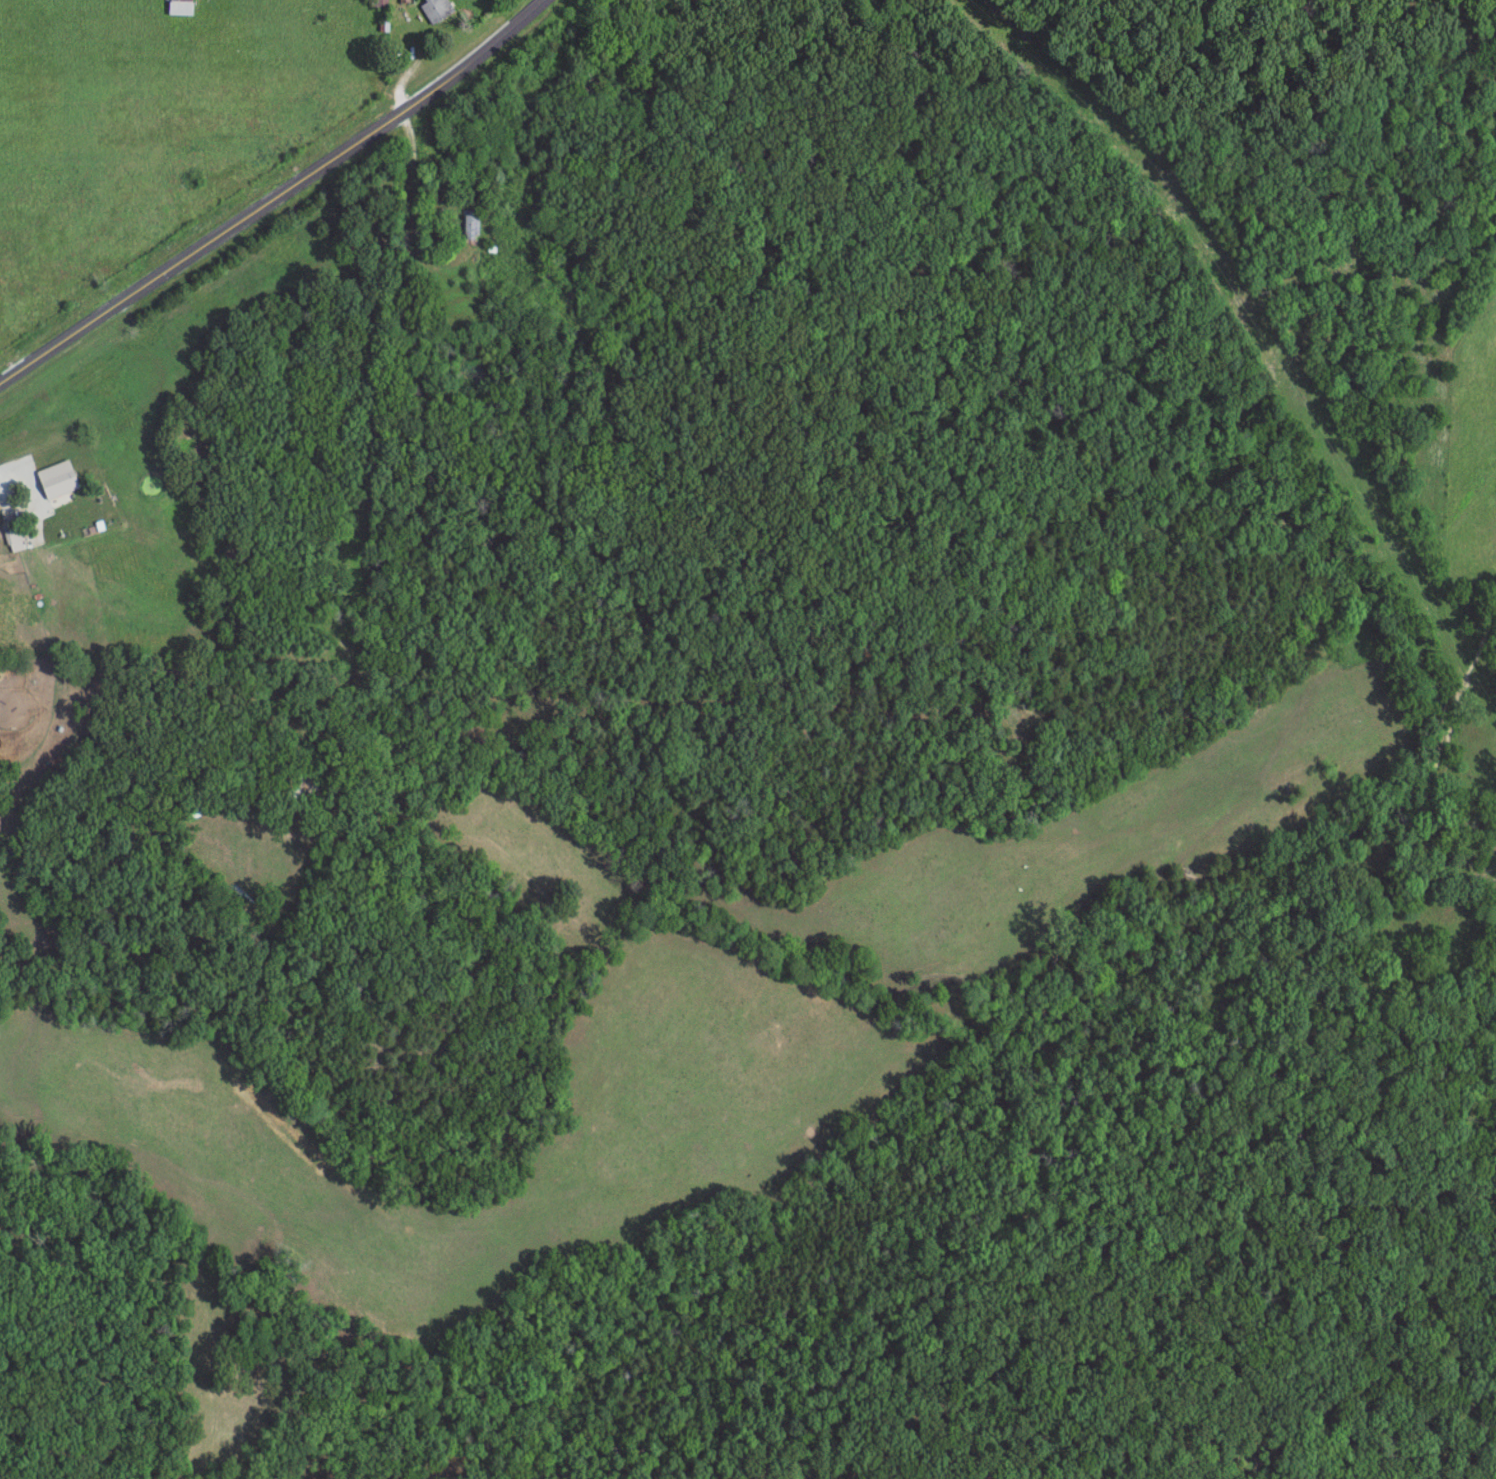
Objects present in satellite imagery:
building: (185, 7)
building: (438, 9)
road: (281, 202)
building: (473, 226)
road: (915, 399)
building: (65, 465)
road: (6, 517)

